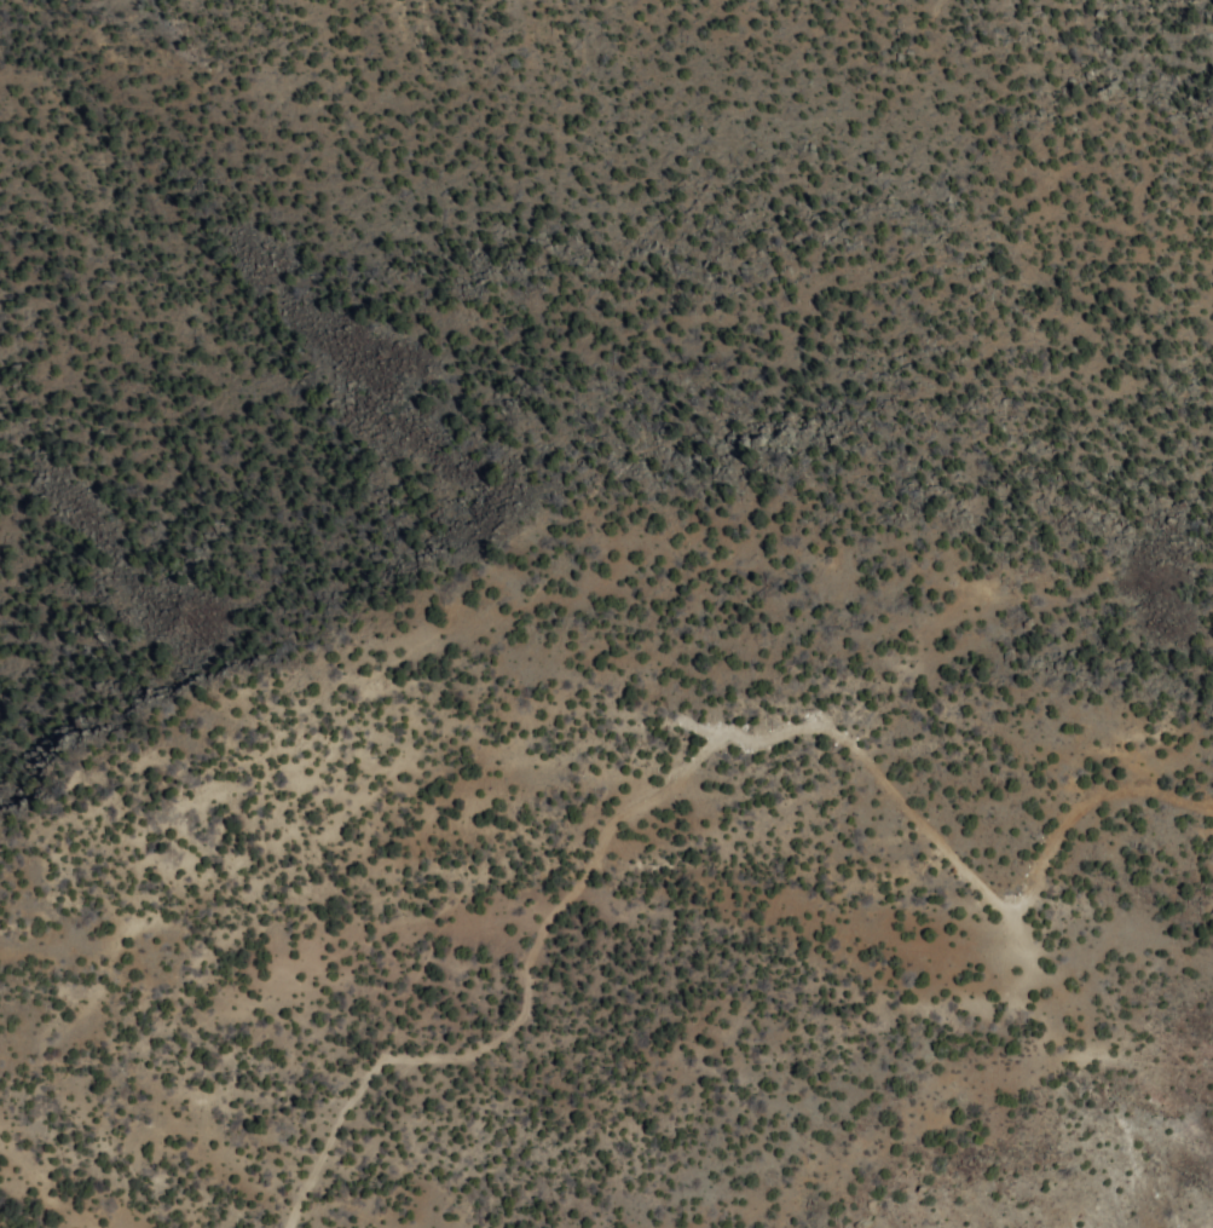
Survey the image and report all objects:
road: (706, 749)

